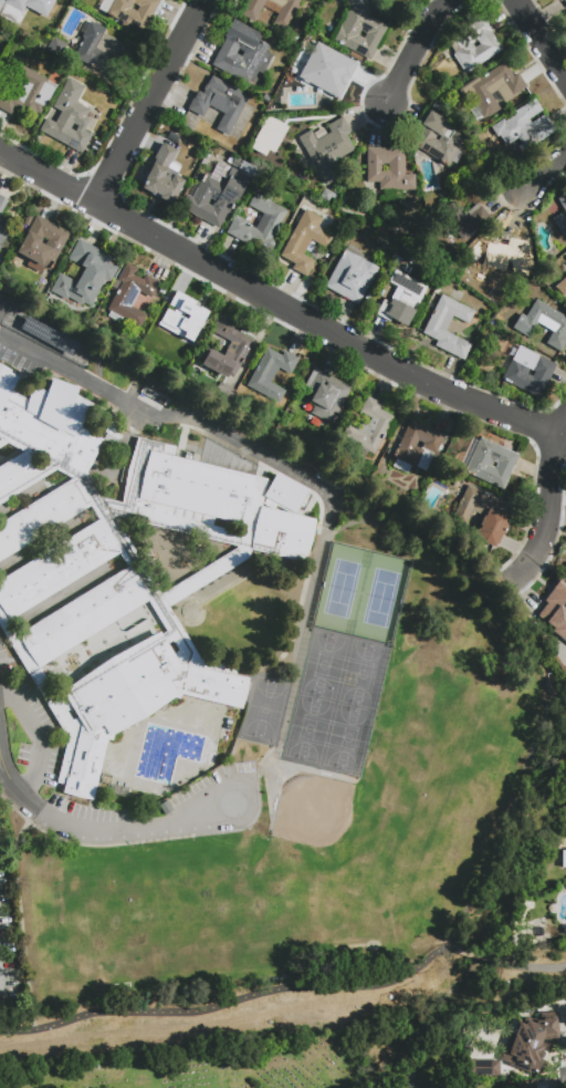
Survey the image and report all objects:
building: (562, 1)
building: (22, 9)
building: (130, 11)
building: (283, 20)
building: (360, 29)
road: (542, 40)
building: (460, 44)
building: (55, 46)
road: (415, 49)
building: (101, 50)
building: (254, 51)
building: (324, 77)
building: (492, 87)
building: (28, 92)
building: (265, 99)
building: (219, 101)
road: (149, 102)
building: (69, 116)
building: (523, 125)
building: (268, 135)
building: (438, 138)
building: (326, 147)
building: (234, 162)
building: (387, 169)
building: (163, 174)
road: (549, 187)
building: (216, 194)
building: (326, 195)
building: (2, 203)
building: (562, 215)
building: (463, 219)
building: (259, 221)
building: (3, 230)
building: (304, 240)
building: (42, 242)
building: (501, 256)
building: (463, 272)
building: (84, 273)
building: (350, 277)
building: (562, 287)
building: (132, 293)
building: (401, 299)
road: (274, 303)
building: (185, 321)
building: (545, 323)
building: (448, 325)
building: (48, 335)
building: (228, 348)
building: (516, 370)
building: (271, 373)
building: (224, 392)
building: (326, 394)
road: (180, 416)
building: (369, 426)
building: (113, 441)
building: (206, 442)
building: (416, 446)
building: (491, 462)
building: (284, 494)
road: (548, 500)
building: (483, 514)
road: (497, 580)
building: (33, 584)
park: (360, 593)
building: (557, 611)
road: (539, 677)
road: (34, 738)
road: (1, 770)
road: (101, 832)
road: (29, 913)
park: (159, 915)
road: (476, 955)
road: (533, 965)
road: (2, 973)
road: (229, 999)
building: (535, 1049)
park: (221, 1064)
building: (482, 1066)
building: (407, 1078)
building: (525, 1085)

